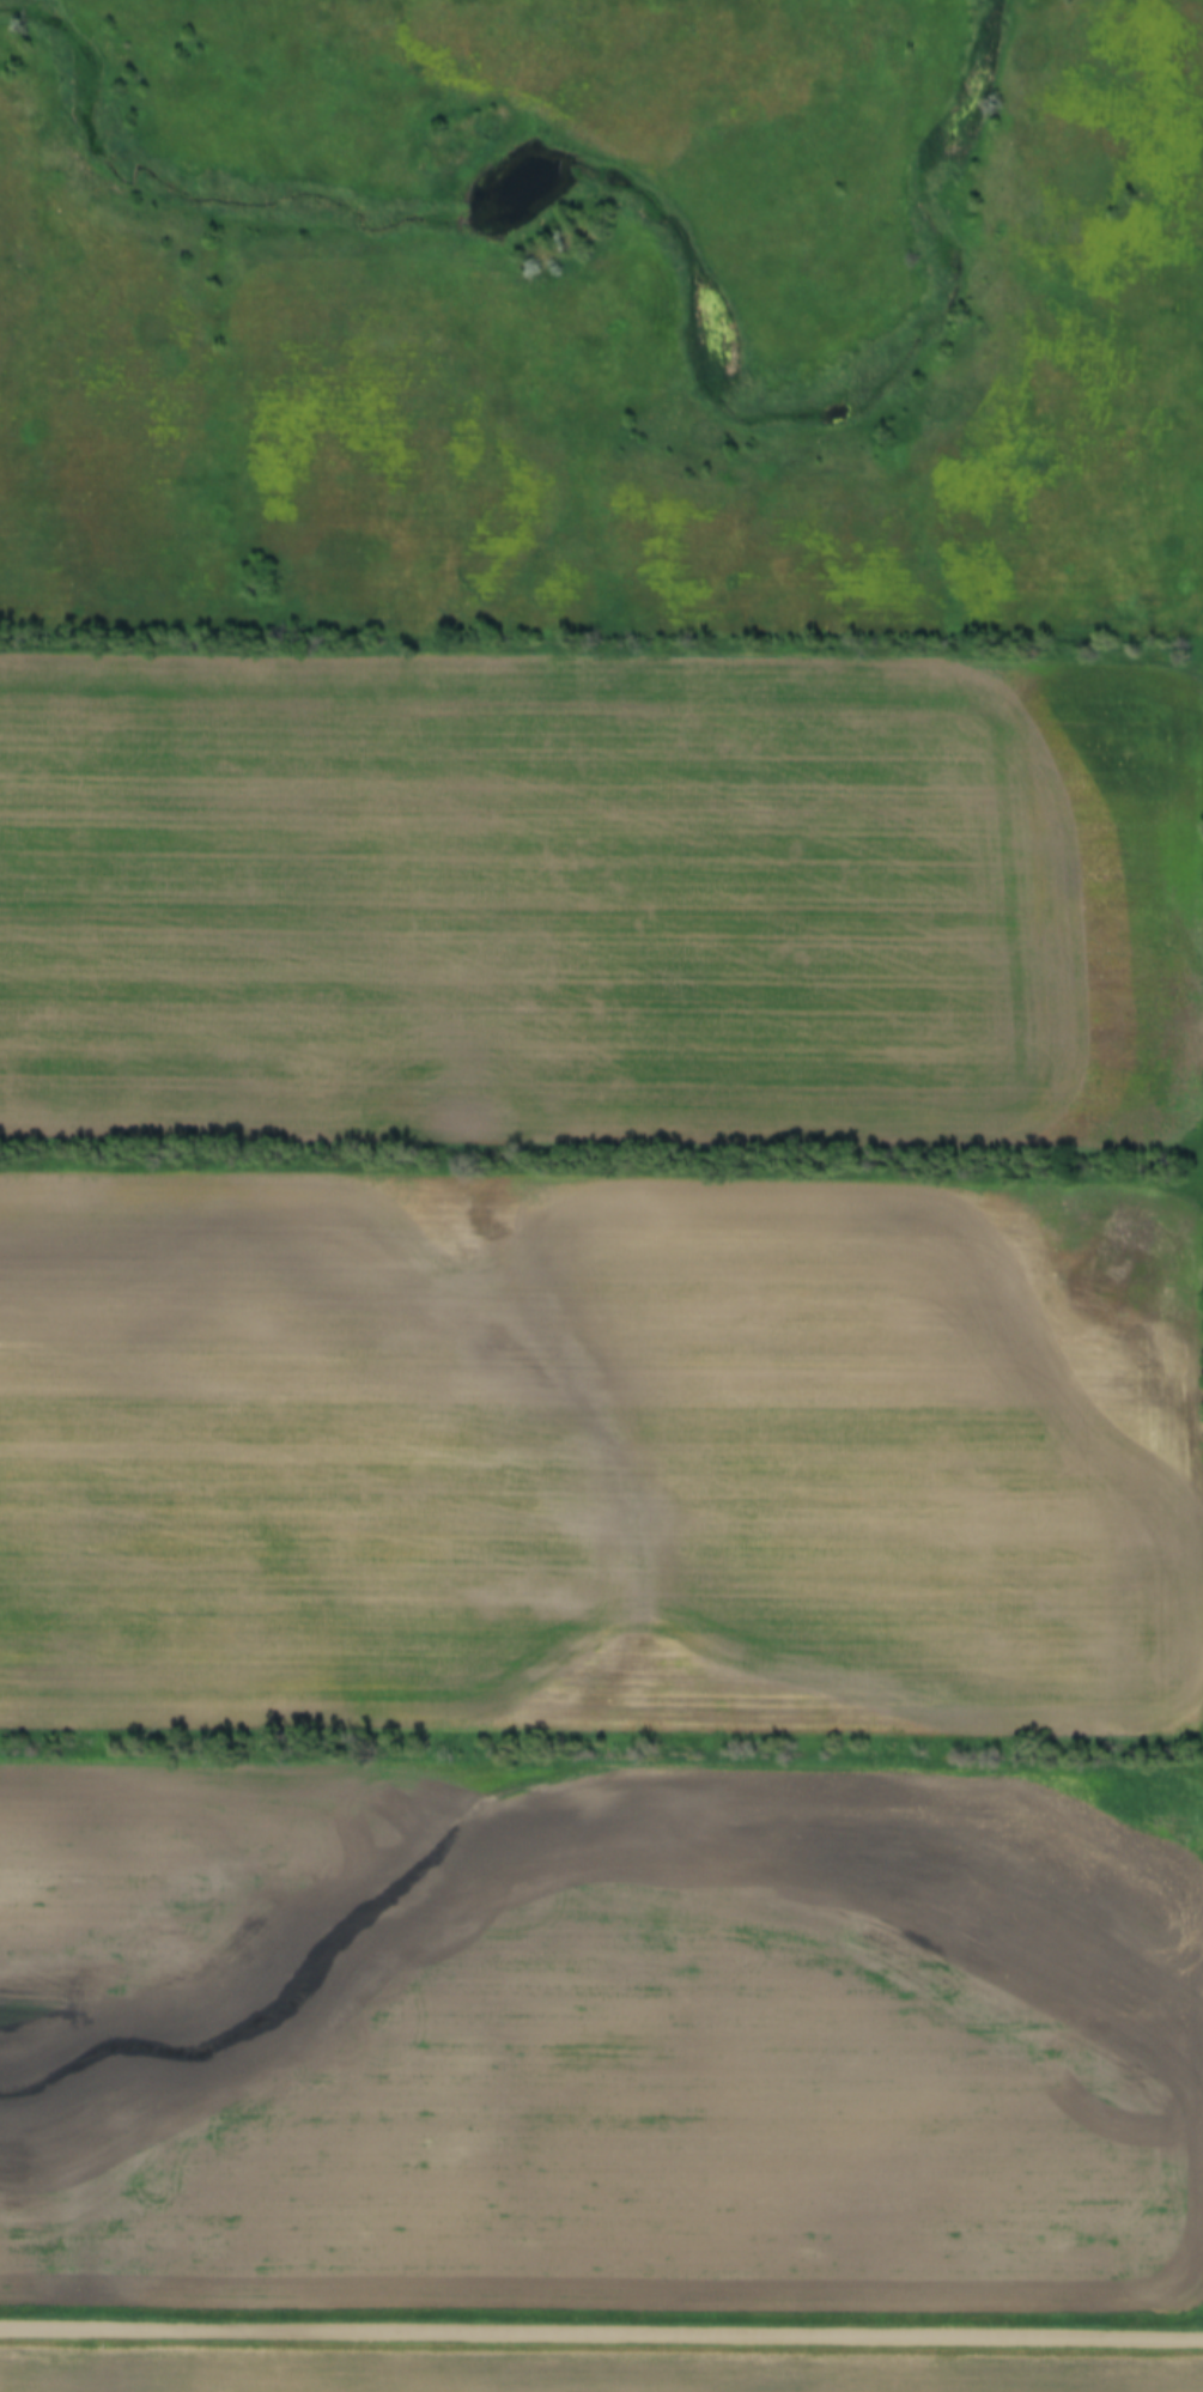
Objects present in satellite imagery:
road: (601, 2335)

